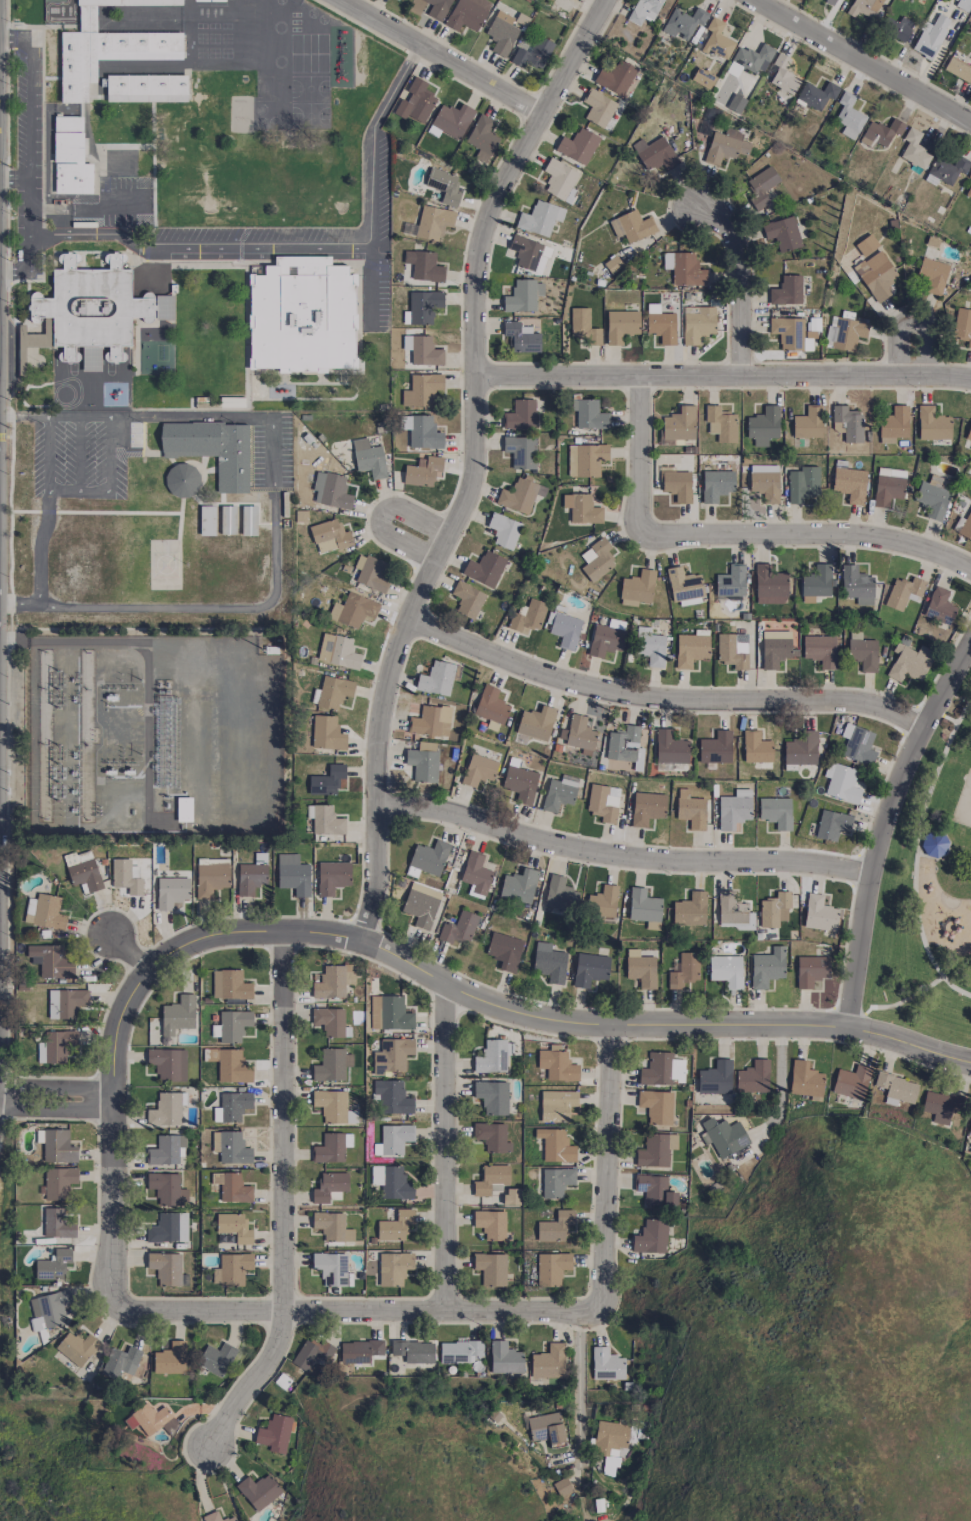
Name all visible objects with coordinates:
building: (209, 0)
building: (831, 1)
building: (863, 7)
building: (437, 8)
building: (643, 10)
building: (467, 14)
building: (683, 22)
building: (897, 28)
building: (501, 33)
building: (930, 36)
road: (15, 37)
building: (717, 40)
building: (108, 47)
building: (533, 53)
road: (442, 56)
building: (753, 58)
road: (857, 64)
building: (958, 68)
building: (781, 74)
building: (615, 77)
building: (702, 78)
building: (146, 88)
building: (816, 95)
building: (736, 103)
building: (598, 108)
building: (849, 116)
building: (452, 120)
building: (880, 132)
building: (482, 138)
building: (578, 146)
building: (725, 146)
building: (914, 149)
building: (655, 153)
road: (28, 154)
building: (70, 157)
building: (947, 169)
road: (371, 175)
building: (969, 175)
road: (14, 178)
building: (560, 180)
building: (444, 185)
building: (761, 186)
building: (968, 191)
building: (540, 218)
building: (433, 222)
building: (632, 226)
building: (409, 229)
building: (782, 233)
road: (198, 245)
building: (866, 245)
building: (613, 264)
building: (424, 266)
building: (684, 269)
road: (14, 272)
building: (876, 275)
building: (932, 276)
building: (786, 291)
road: (742, 292)
building: (523, 296)
building: (423, 306)
building: (95, 310)
building: (302, 315)
building: (660, 324)
building: (697, 324)
building: (621, 325)
building: (962, 325)
building: (584, 327)
building: (844, 333)
building: (521, 337)
road: (923, 349)
building: (422, 350)
road: (723, 374)
building: (422, 390)
building: (589, 414)
building: (520, 415)
road: (137, 417)
building: (720, 423)
building: (808, 423)
building: (847, 423)
building: (932, 424)
building: (678, 425)
building: (763, 426)
building: (421, 432)
building: (968, 433)
building: (212, 449)
building: (520, 451)
road: (275, 453)
building: (368, 458)
building: (585, 459)
road: (475, 462)
building: (422, 471)
building: (182, 480)
road: (109, 482)
building: (764, 482)
building: (849, 483)
building: (716, 484)
building: (802, 484)
building: (677, 485)
building: (888, 486)
building: (331, 490)
building: (520, 495)
building: (932, 497)
building: (581, 508)
road: (45, 513)
building: (207, 520)
building: (227, 520)
building: (248, 520)
building: (963, 526)
building: (503, 530)
road: (416, 533)
building: (329, 536)
road: (729, 536)
building: (596, 559)
building: (484, 568)
building: (731, 581)
building: (816, 583)
building: (770, 585)
building: (857, 585)
building: (684, 586)
building: (637, 588)
building: (903, 592)
building: (467, 599)
building: (939, 606)
road: (192, 607)
building: (353, 610)
building: (527, 616)
building: (563, 627)
building: (606, 638)
building: (650, 646)
building: (776, 648)
building: (690, 649)
building: (733, 650)
building: (819, 650)
building: (337, 651)
building: (863, 654)
building: (909, 662)
building: (436, 678)
building: (333, 692)
road: (663, 699)
building: (491, 705)
building: (431, 721)
building: (536, 723)
building: (327, 733)
building: (578, 733)
power substation: (154, 734)
building: (623, 744)
building: (857, 744)
building: (426, 746)
building: (756, 747)
building: (670, 748)
building: (715, 748)
building: (801, 749)
building: (422, 765)
building: (478, 770)
building: (327, 780)
building: (520, 783)
building: (842, 784)
building: (559, 793)
building: (603, 802)
building: (647, 807)
building: (183, 809)
building: (734, 809)
building: (691, 810)
building: (775, 812)
building: (325, 820)
building: (832, 824)
road: (893, 830)
building: (933, 845)
road: (922, 854)
building: (78, 857)
building: (429, 857)
road: (629, 857)
building: (293, 874)
building: (476, 874)
building: (84, 875)
building: (252, 875)
building: (125, 877)
building: (332, 877)
building: (211, 879)
building: (519, 886)
building: (171, 891)
park: (931, 892)
building: (560, 894)
building: (602, 902)
building: (420, 908)
building: (644, 908)
building: (690, 910)
building: (774, 910)
building: (733, 911)
building: (44, 912)
building: (819, 914)
building: (458, 927)
road: (128, 951)
building: (504, 951)
building: (52, 960)
building: (549, 962)
building: (767, 967)
building: (640, 968)
building: (589, 969)
building: (684, 970)
building: (726, 970)
building: (811, 970)
building: (332, 982)
building: (230, 985)
road: (910, 998)
road: (489, 999)
building: (65, 1002)
building: (389, 1013)
building: (177, 1016)
building: (329, 1021)
building: (233, 1025)
building: (57, 1044)
building: (392, 1055)
building: (493, 1056)
building: (557, 1063)
building: (168, 1064)
building: (228, 1064)
building: (331, 1065)
building: (662, 1069)
building: (753, 1077)
building: (715, 1078)
building: (805, 1079)
road: (781, 1082)
building: (852, 1082)
road: (57, 1087)
building: (896, 1088)
building: (392, 1097)
building: (492, 1097)
building: (331, 1105)
building: (557, 1105)
building: (940, 1105)
building: (231, 1106)
building: (656, 1106)
road: (58, 1110)
building: (165, 1110)
building: (351, 1116)
building: (970, 1131)
building: (491, 1136)
building: (723, 1136)
building: (393, 1139)
building: (56, 1145)
building: (555, 1145)
building: (230, 1147)
building: (329, 1148)
road: (450, 1149)
building: (167, 1150)
building: (653, 1151)
road: (614, 1171)
building: (490, 1179)
building: (556, 1181)
building: (58, 1182)
building: (391, 1182)
building: (329, 1185)
building: (232, 1187)
building: (167, 1189)
building: (654, 1190)
road: (119, 1194)
building: (511, 1196)
road: (289, 1202)
building: (57, 1223)
building: (490, 1224)
building: (395, 1226)
building: (234, 1227)
building: (332, 1227)
building: (556, 1227)
building: (168, 1228)
building: (651, 1237)
building: (53, 1265)
building: (330, 1268)
building: (394, 1268)
building: (491, 1268)
building: (552, 1268)
building: (167, 1269)
building: (231, 1269)
building: (49, 1309)
road: (367, 1311)
building: (76, 1347)
building: (414, 1350)
building: (359, 1351)
building: (460, 1351)
building: (312, 1354)
building: (216, 1358)
building: (505, 1358)
building: (170, 1359)
building: (120, 1362)
building: (548, 1362)
building: (607, 1364)
road: (579, 1387)
building: (154, 1419)
building: (547, 1428)
building: (274, 1433)
building: (609, 1444)
building: (562, 1486)
building: (258, 1491)
building: (216, 1517)

